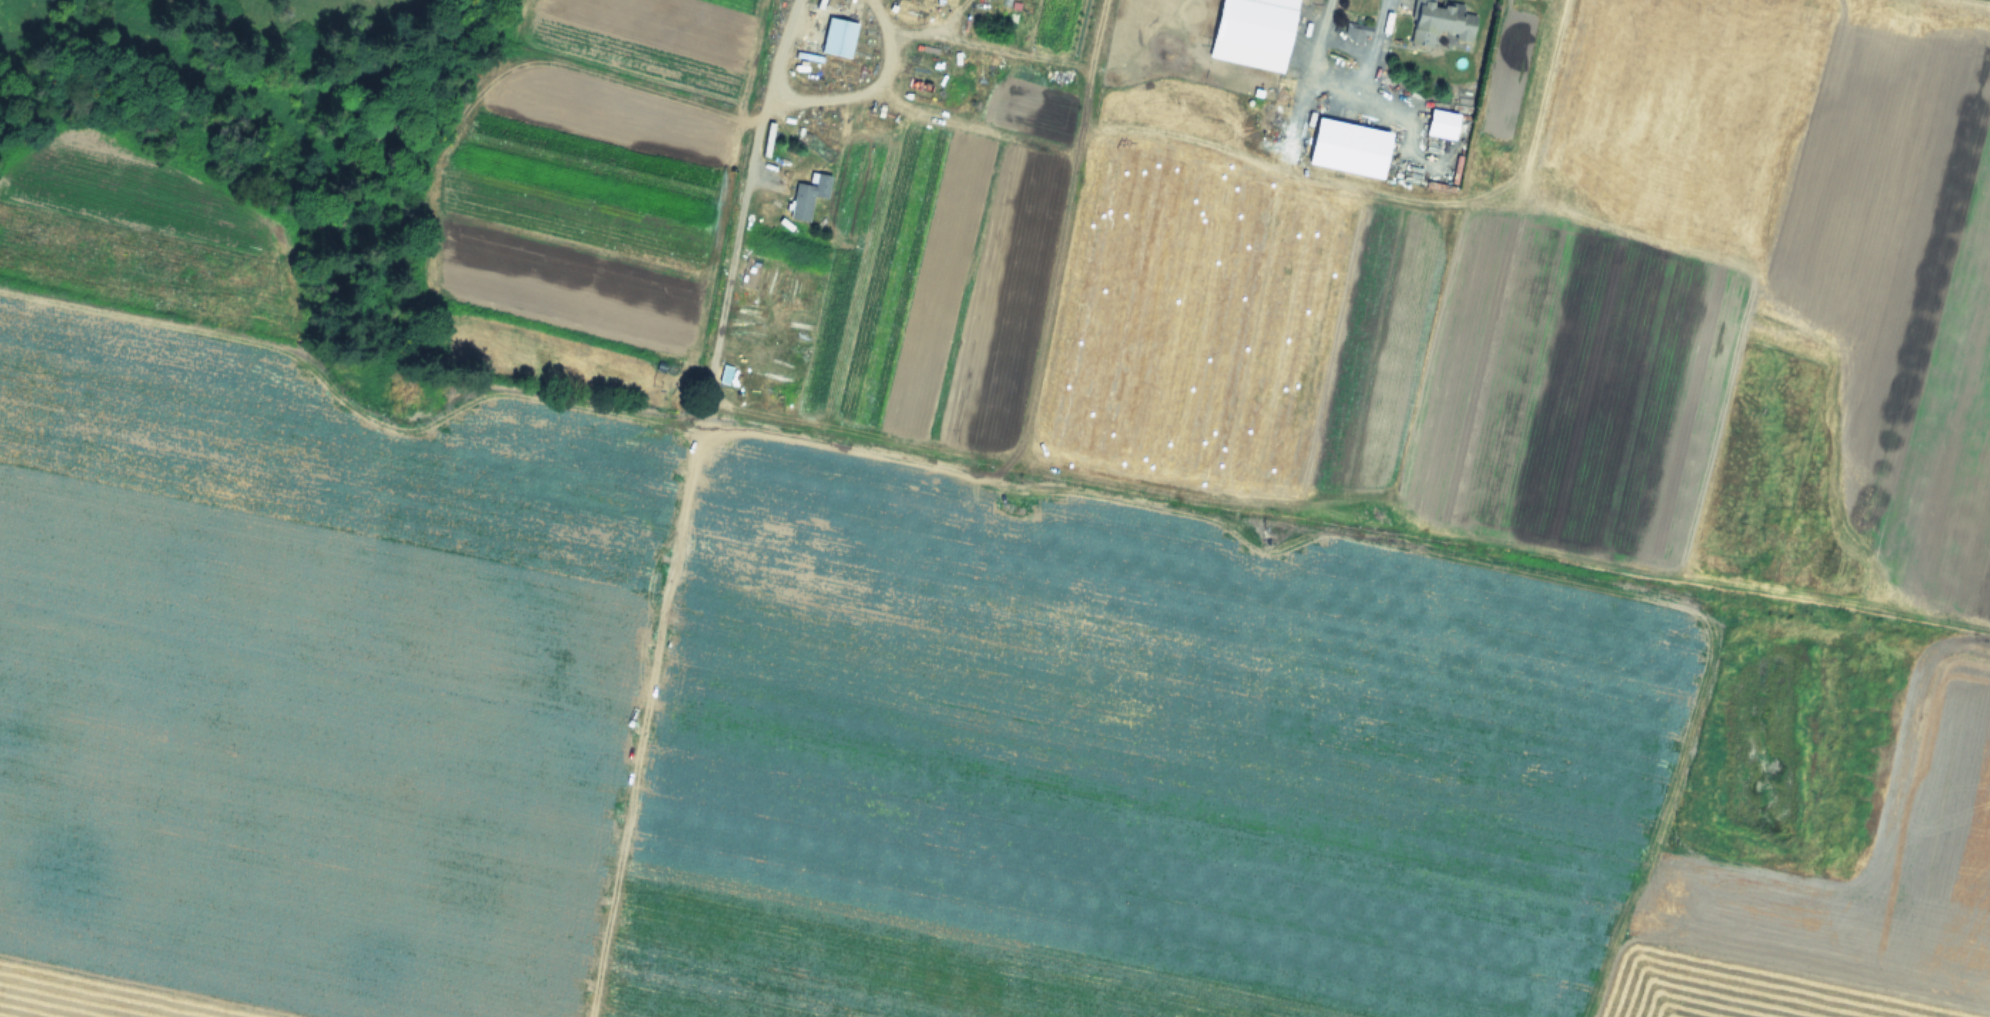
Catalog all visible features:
crop: (317, 1)
building: (1441, 21)
building: (1253, 32)
building: (1358, 32)
building: (838, 36)
road: (1099, 48)
road: (1338, 77)
road: (867, 88)
road: (747, 181)
building: (808, 195)
crop: (1039, 531)

